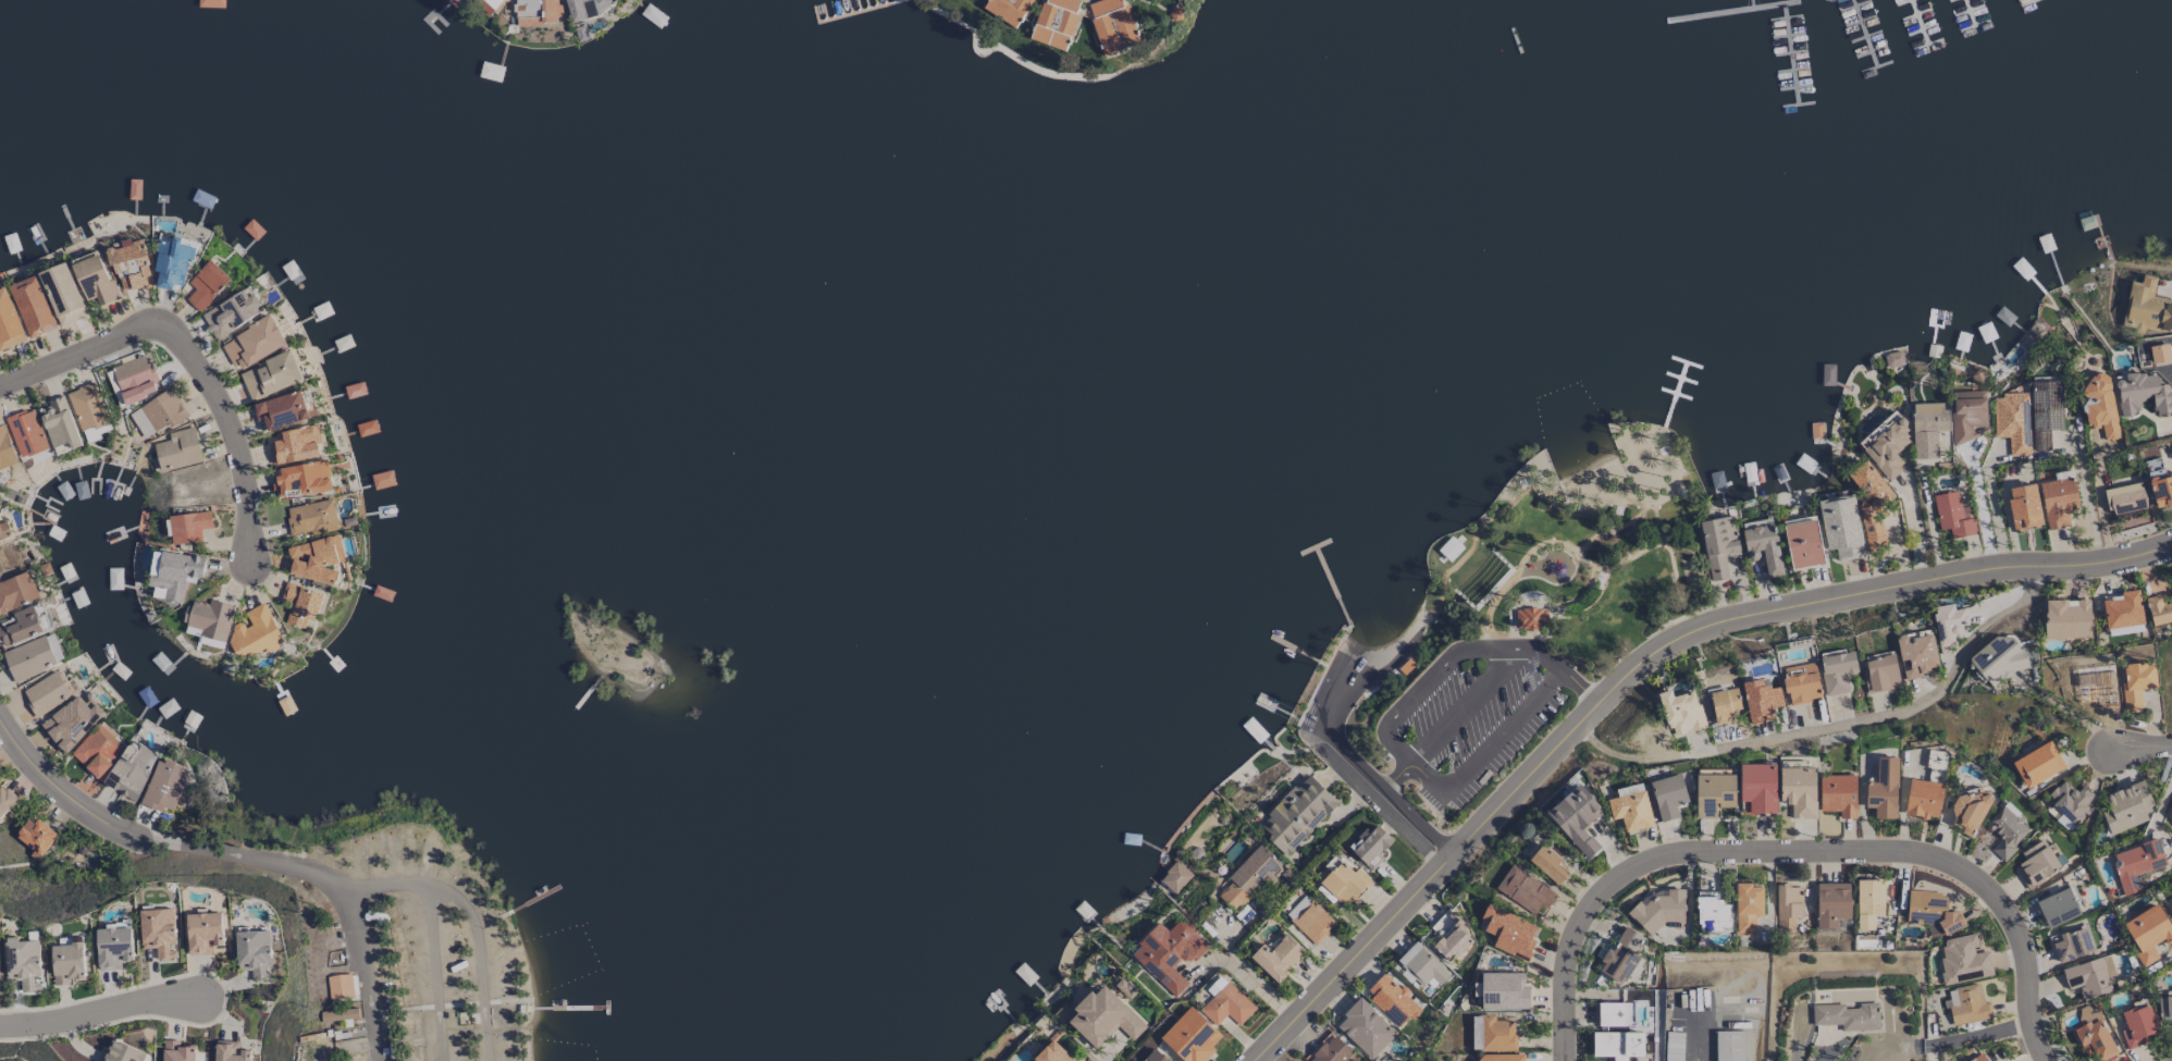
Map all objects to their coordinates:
pier: (1900, 1)
pier: (2025, 2)
pier: (1751, 3)
building: (486, 4)
pier: (1854, 5)
building: (588, 8)
pier: (1973, 8)
building: (1008, 10)
pier: (1730, 10)
building: (535, 11)
pier: (1974, 11)
pier: (1915, 13)
pier: (1784, 17)
pier: (1860, 20)
building: (1056, 22)
pier: (1918, 22)
pier: (1979, 23)
building: (1111, 24)
pier: (1921, 28)
pier: (1864, 33)
pier: (1787, 35)
pier: (1866, 35)
pier: (1927, 44)
pier: (1871, 50)
pier: (1789, 52)
pier: (1789, 53)
pier: (1877, 65)
pier: (1791, 70)
pier: (1793, 86)
pier: (1795, 103)
building: (171, 262)
building: (131, 266)
building: (94, 277)
building: (206, 285)
building: (62, 294)
building: (2147, 306)
building: (32, 307)
building: (233, 312)
building: (8, 323)
building: (254, 343)
road: (193, 351)
building: (2159, 354)
pier: (1684, 362)
building: (271, 377)
pier: (1679, 378)
building: (135, 379)
pier: (1674, 394)
pier: (1674, 394)
building: (2142, 394)
building: (2100, 405)
building: (87, 407)
building: (284, 410)
building: (2045, 412)
building: (158, 414)
building: (1969, 415)
building: (2012, 421)
building: (60, 425)
building: (1927, 429)
building: (26, 433)
building: (96, 433)
building: (1886, 444)
building: (295, 445)
building: (5, 449)
building: (177, 449)
park: (1642, 461)
building: (303, 479)
building: (2160, 485)
building: (2058, 499)
building: (2125, 499)
road: (1979, 504)
road: (2088, 504)
building: (2023, 507)
building: (1951, 516)
building: (311, 517)
building: (188, 527)
building: (1841, 527)
building: (4, 531)
building: (1802, 543)
building: (1762, 544)
building: (1718, 545)
pier: (1313, 546)
building: (317, 559)
building: (173, 572)
park: (1692, 579)
pier: (1330, 582)
building: (17, 592)
building: (2171, 592)
building: (300, 604)
building: (2122, 609)
building: (2159, 610)
building: (208, 619)
building: (1530, 619)
building: (2066, 619)
building: (1948, 622)
park: (1507, 625)
building: (20, 627)
building: (256, 632)
pier: (1297, 651)
building: (1916, 654)
building: (34, 657)
building: (1997, 659)
road: (1646, 666)
building: (1837, 670)
building: (1880, 674)
building: (1801, 683)
building: (2136, 683)
building: (50, 692)
building: (1760, 700)
building: (1724, 704)
pier: (582, 705)
building: (1680, 712)
parking lot: (1472, 713)
road: (1839, 720)
building: (73, 721)
road: (1391, 721)
road: (1332, 747)
road: (2140, 747)
building: (98, 750)
building: (2037, 764)
building: (131, 769)
road: (1397, 775)
building: (164, 786)
building: (1757, 787)
building: (1883, 789)
building: (1798, 791)
building: (1713, 793)
building: (1838, 794)
building: (1668, 795)
building: (5, 799)
building: (1923, 799)
building: (2071, 801)
building: (1630, 806)
building: (2126, 807)
building: (1967, 810)
building: (1296, 815)
building: (1576, 819)
building: (2006, 832)
road: (158, 834)
building: (36, 837)
building: (1370, 847)
road: (1802, 849)
building: (2136, 863)
building: (1548, 864)
building: (2036, 864)
building: (1175, 877)
building: (1248, 878)
building: (1344, 883)
building: (1525, 890)
pier: (527, 901)
building: (1831, 903)
building: (1868, 903)
building: (1747, 906)
building: (2058, 906)
building: (1657, 908)
building: (1788, 908)
building: (1933, 912)
building: (1713, 913)
building: (1309, 920)
road: (476, 924)
building: (1442, 925)
building: (158, 932)
building: (203, 932)
building: (1508, 933)
building: (2148, 933)
building: (1452, 941)
building: (2072, 943)
building: (113, 947)
building: (254, 953)
building: (1169, 953)
building: (1278, 957)
building: (1621, 958)
building: (1963, 960)
building: (23, 963)
building: (66, 963)
building: (1421, 965)
road: (362, 974)
road: (439, 974)
building: (2090, 977)
road: (1250, 979)
building: (340, 986)
building: (1504, 991)
building: (1393, 999)
building: (1225, 1003)
road: (457, 1004)
building: (1967, 1004)
pier: (605, 1007)
pier: (568, 1008)
building: (2169, 1008)
building: (2161, 1009)
road: (98, 1014)
building: (338, 1014)
building: (1609, 1014)
building: (1847, 1016)
building: (1103, 1017)
building: (2137, 1026)
building: (1365, 1028)
building: (1492, 1034)
road: (1978, 1035)
building: (1190, 1037)
building: (2095, 1040)
building: (1617, 1045)
building: (1728, 1046)
building: (1330, 1050)
building: (176, 1051)
building: (230, 1051)
building: (123, 1053)
building: (1053, 1053)
park: (356, 1057)
building: (1155, 1057)
building: (1498, 1058)

